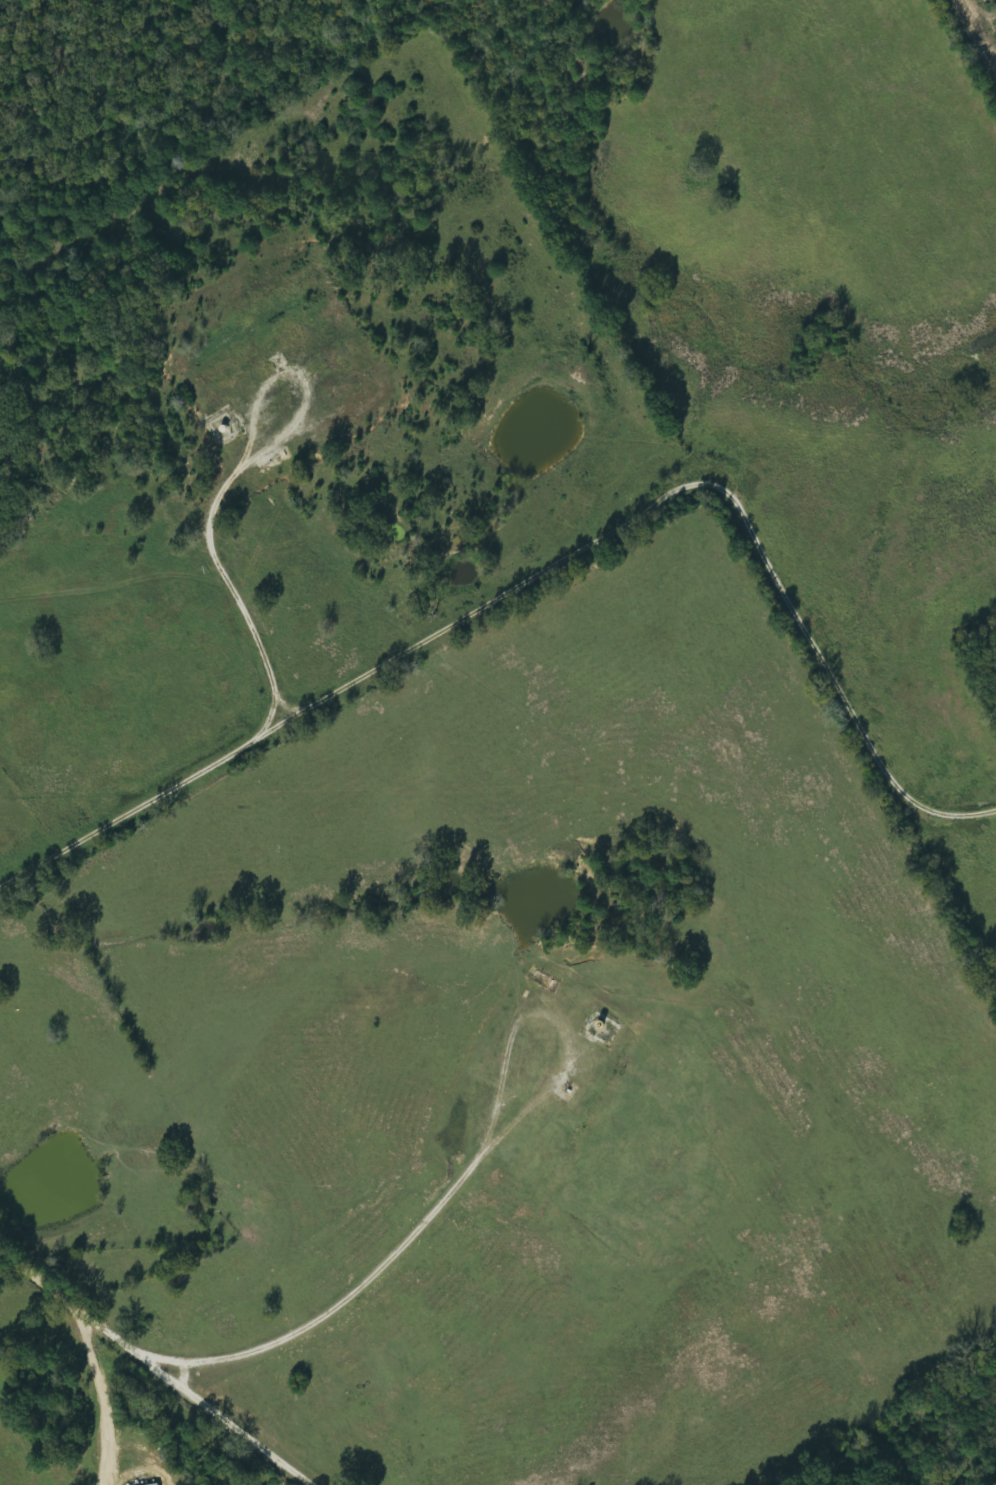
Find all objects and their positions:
road: (164, 587)
road: (145, 1374)
building: (158, 1484)

